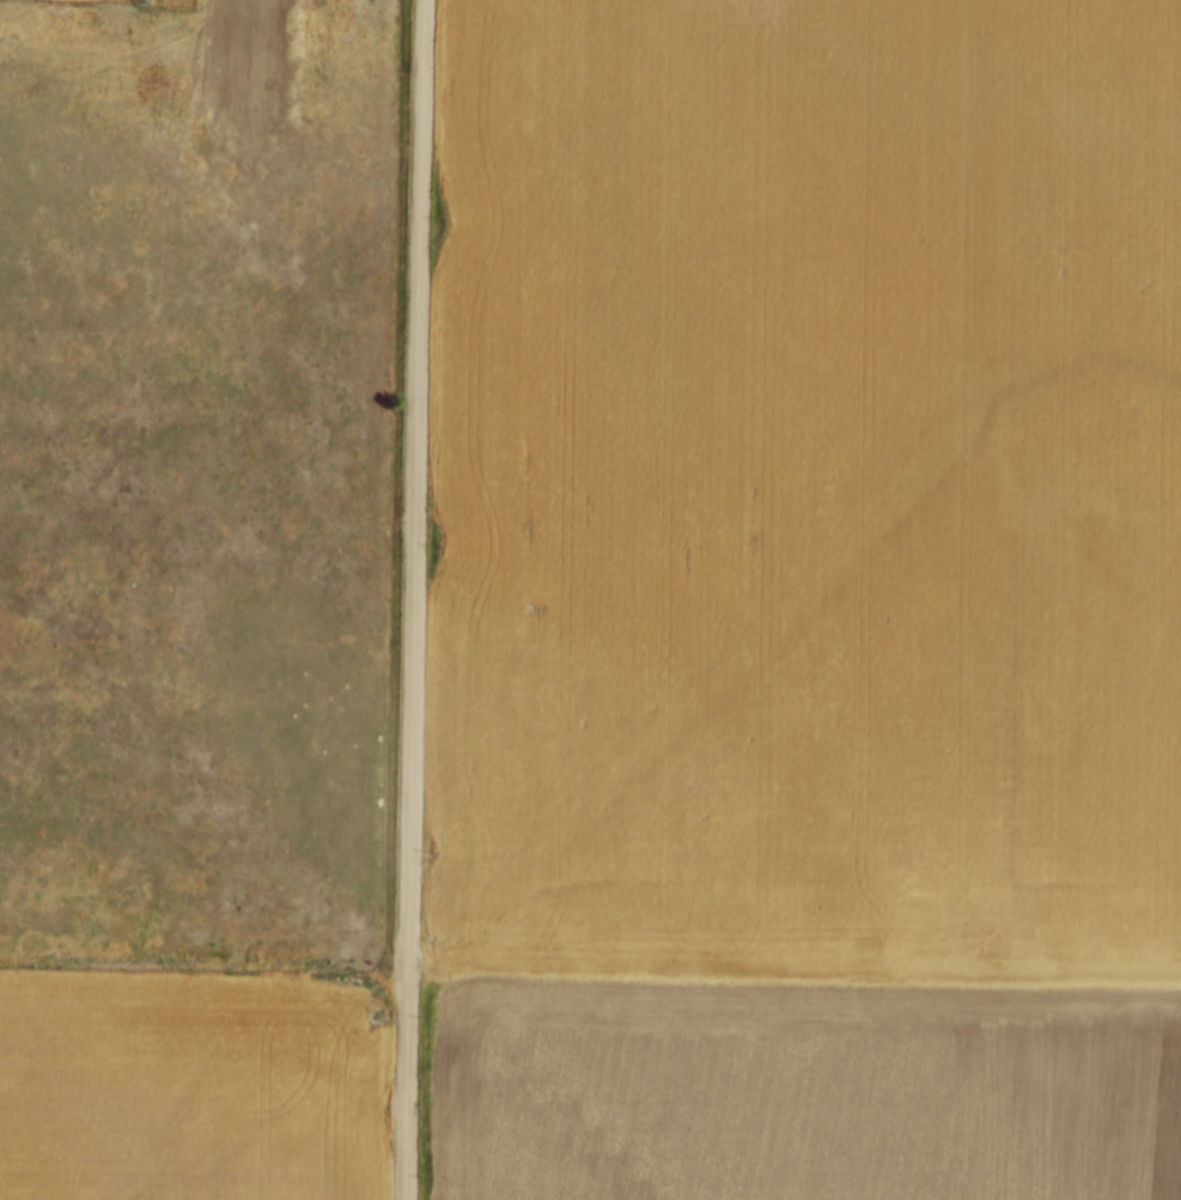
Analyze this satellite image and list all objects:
road: (418, 599)
crop: (810, 602)
crop: (189, 1084)

